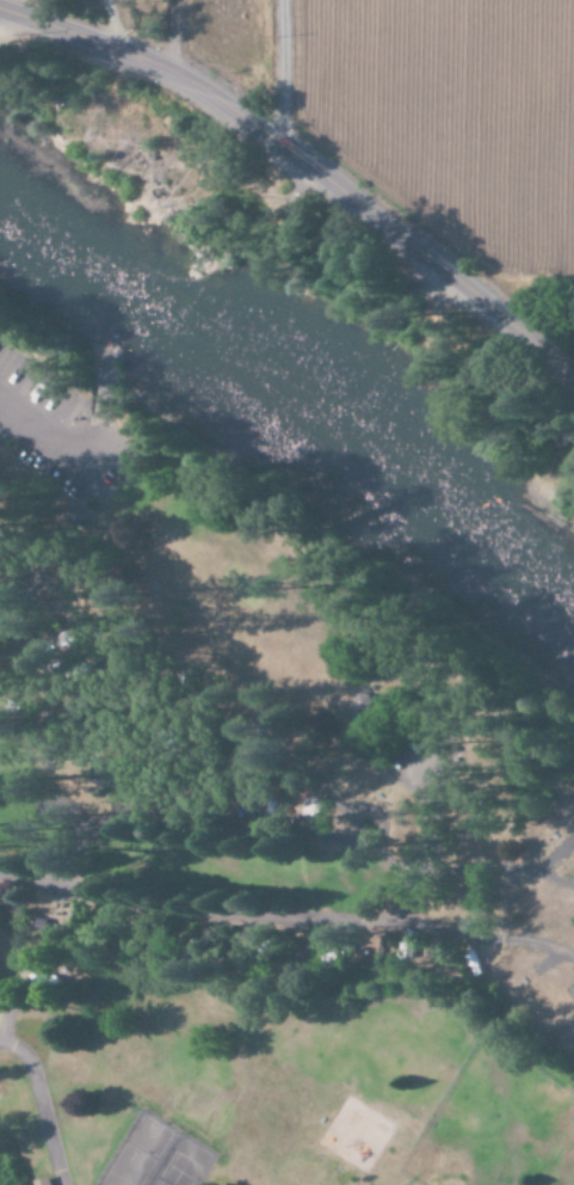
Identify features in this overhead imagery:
road: (279, 72)
crop: (455, 119)
road: (303, 162)
river: (298, 379)
road: (16, 424)
road: (49, 431)
building: (69, 515)
road: (31, 582)
road: (51, 614)
road: (60, 641)
road: (126, 662)
road: (66, 679)
building: (360, 701)
road: (79, 710)
road: (199, 723)
road: (253, 731)
road: (162, 736)
road: (178, 760)
building: (107, 774)
road: (140, 786)
road: (254, 787)
road: (199, 790)
road: (271, 802)
road: (348, 805)
park: (259, 833)
road: (426, 833)
road: (488, 864)
road: (400, 873)
road: (27, 874)
building: (41, 923)
road: (484, 940)
building: (0, 987)
road: (41, 1105)
building: (41, 1181)

